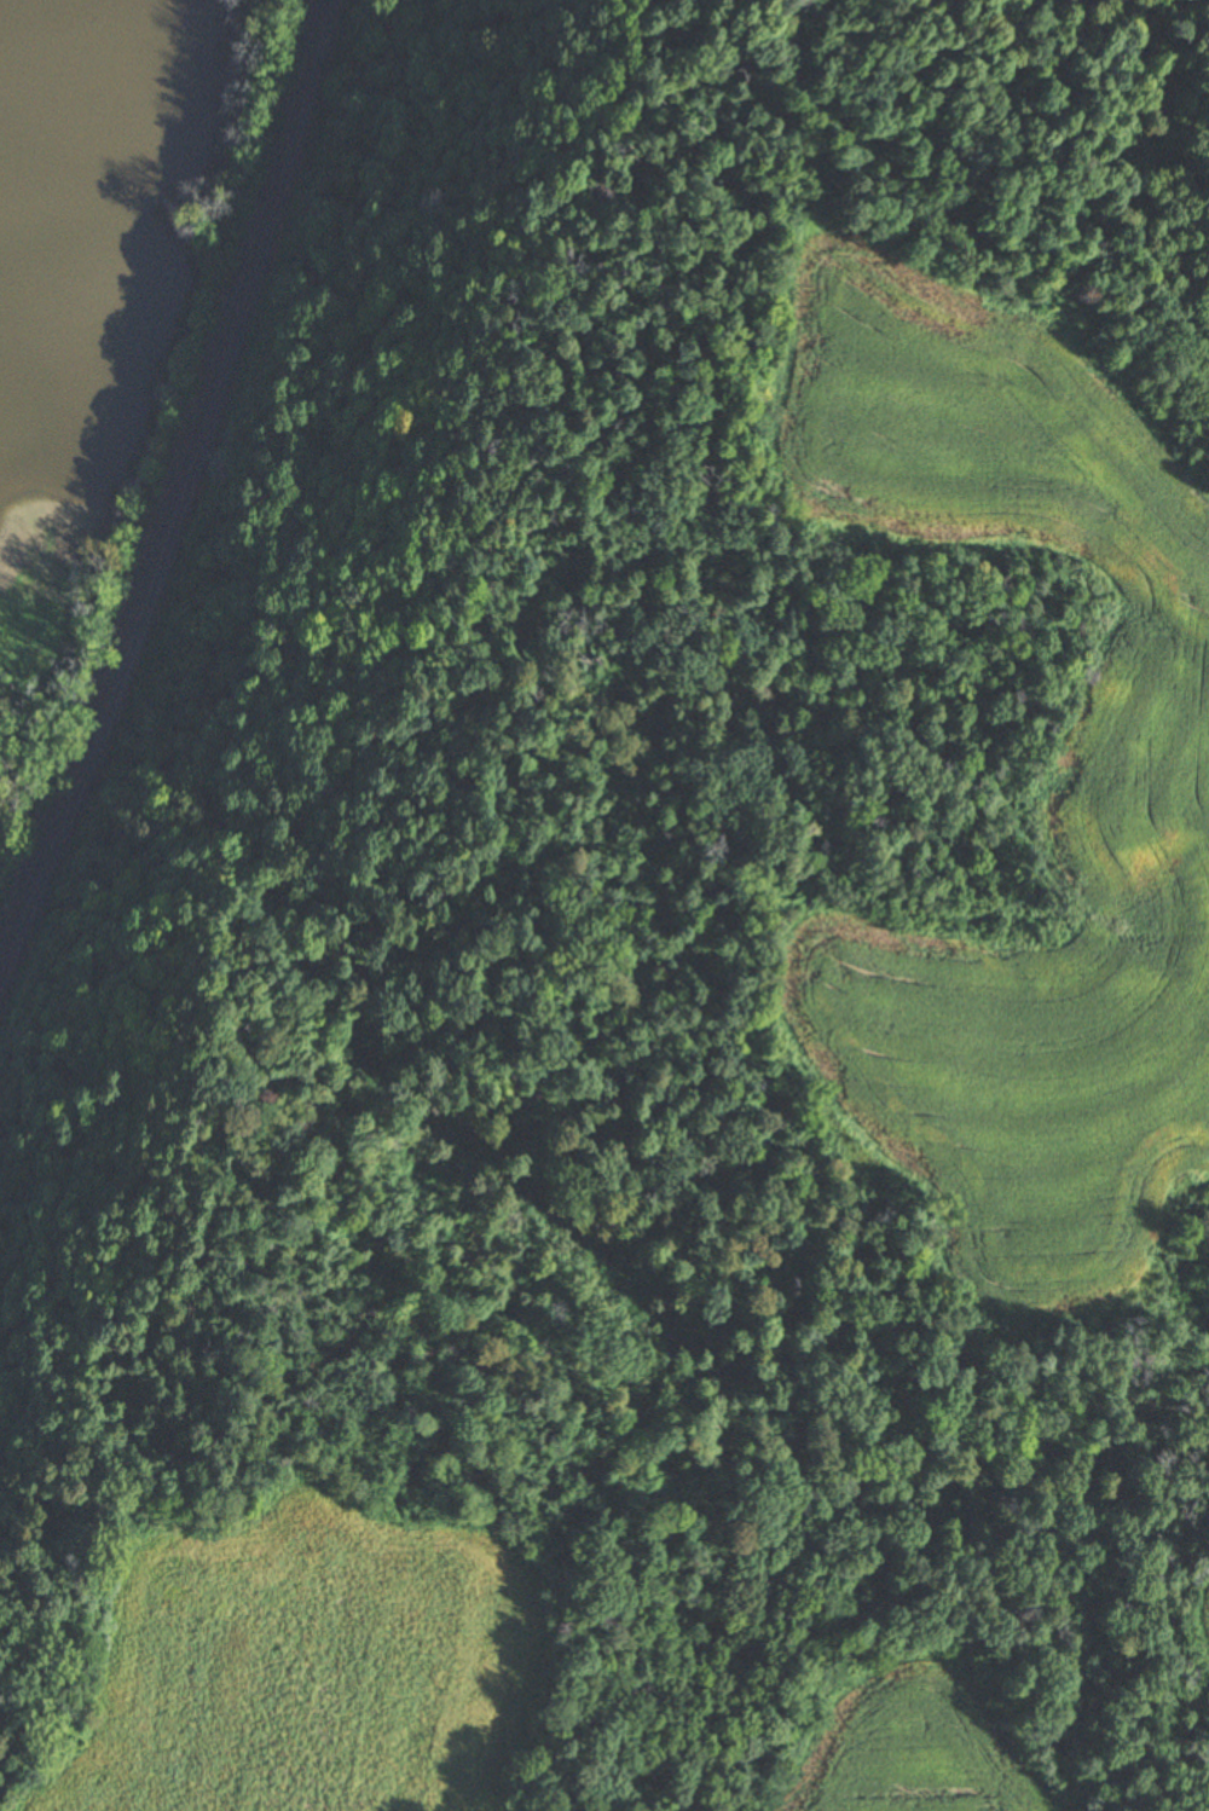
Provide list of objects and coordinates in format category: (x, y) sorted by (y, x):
railway: (181, 482)
railway: (189, 502)

